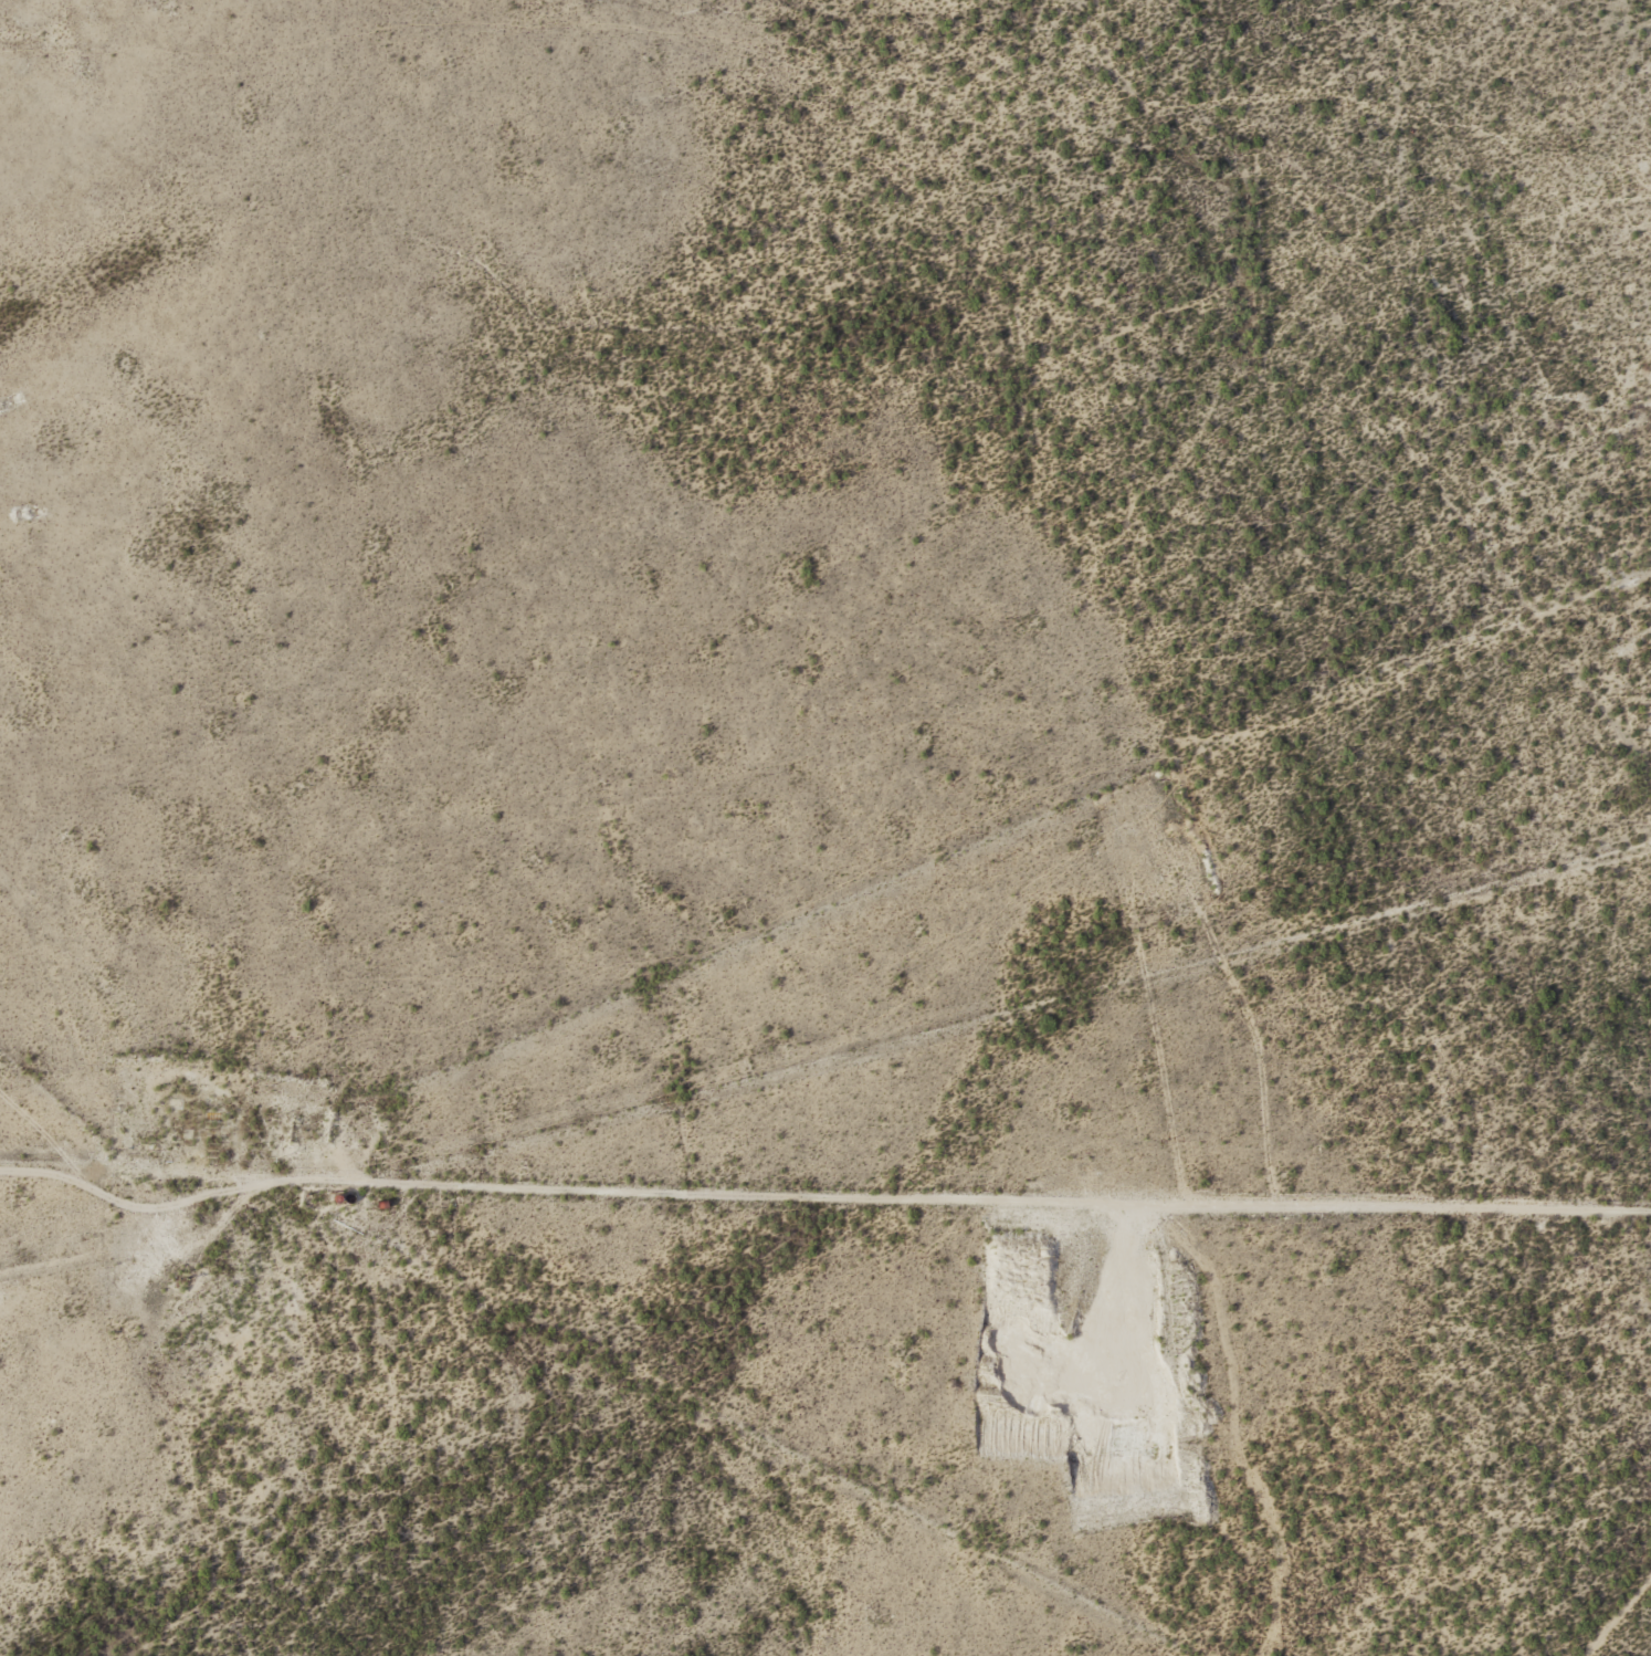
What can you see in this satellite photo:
road: (122, 1046)
road: (814, 1194)

